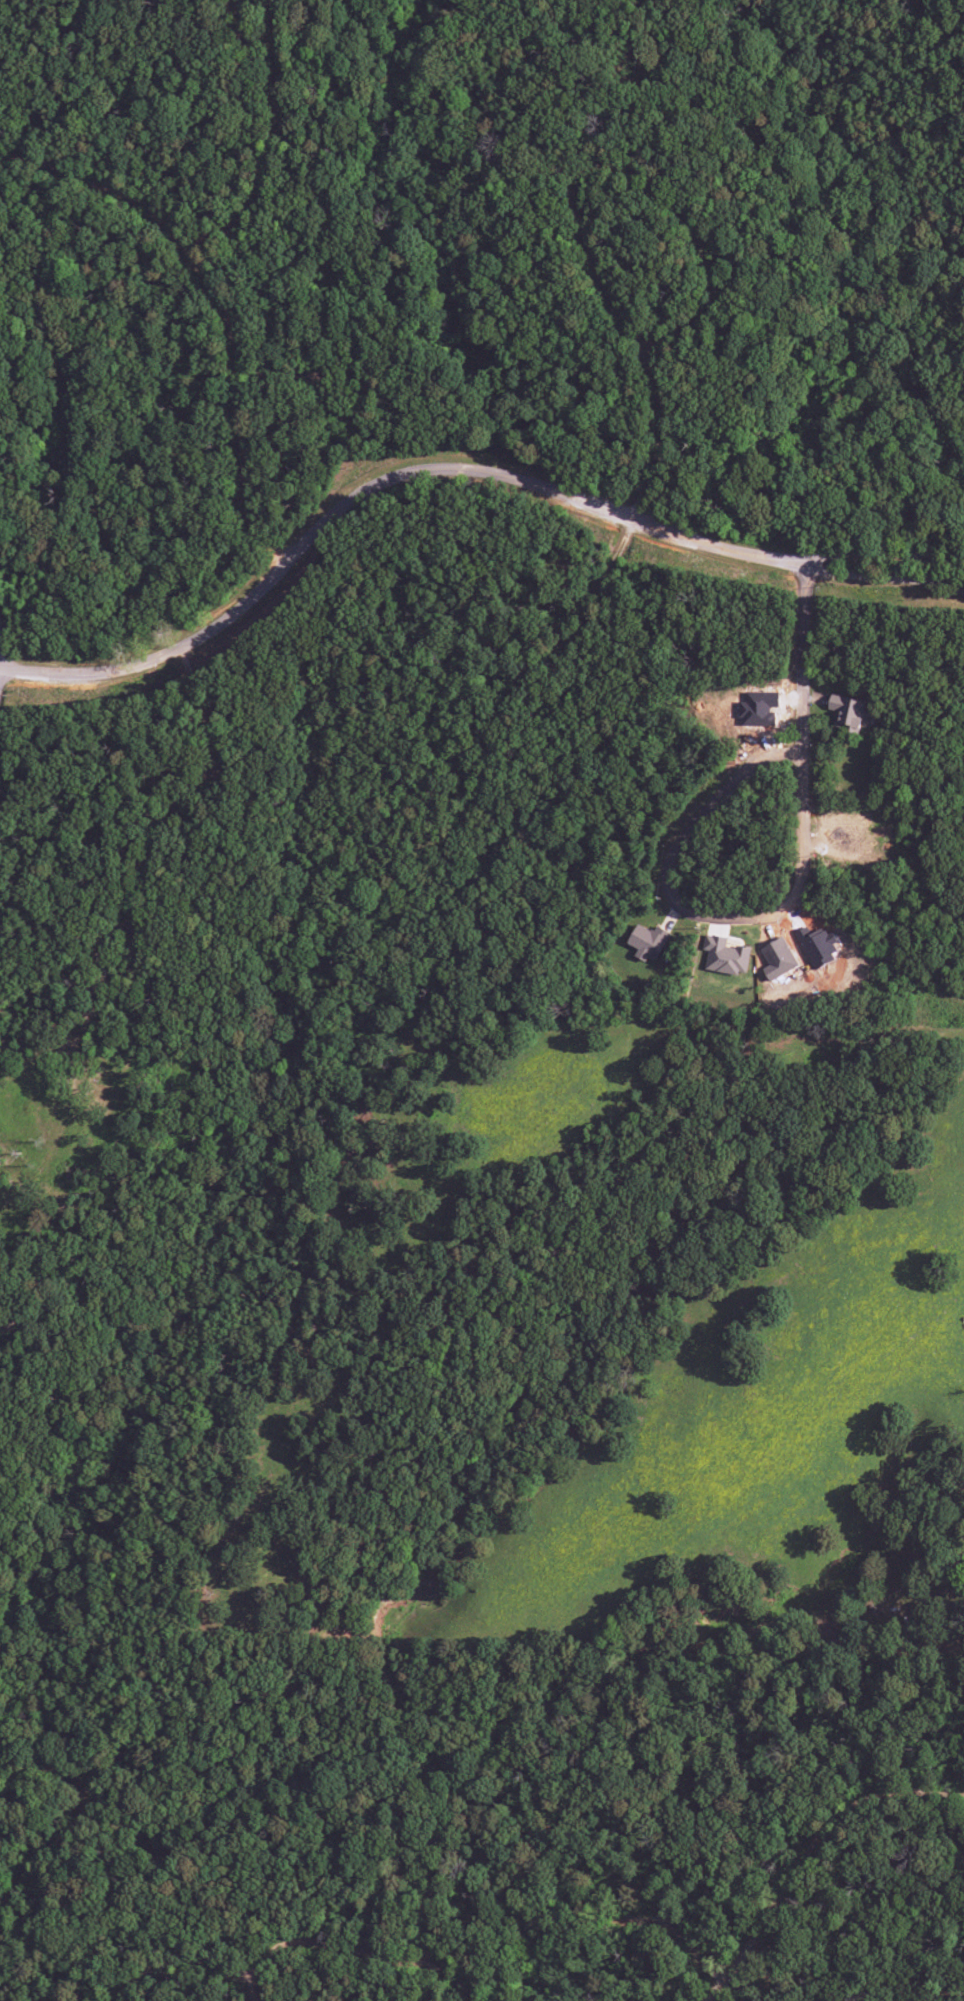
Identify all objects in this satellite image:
road: (279, 152)
road: (578, 212)
road: (222, 303)
road: (300, 360)
road: (379, 489)
road: (885, 556)
road: (885, 582)
road: (532, 631)
road: (552, 635)
road: (1, 651)
road: (806, 661)
building: (847, 711)
road: (724, 797)
road: (185, 807)
building: (647, 942)
building: (725, 956)
road: (81, 1818)
road: (811, 1856)
road: (387, 1915)
road: (681, 1937)
road: (364, 1954)
road: (192, 1960)

